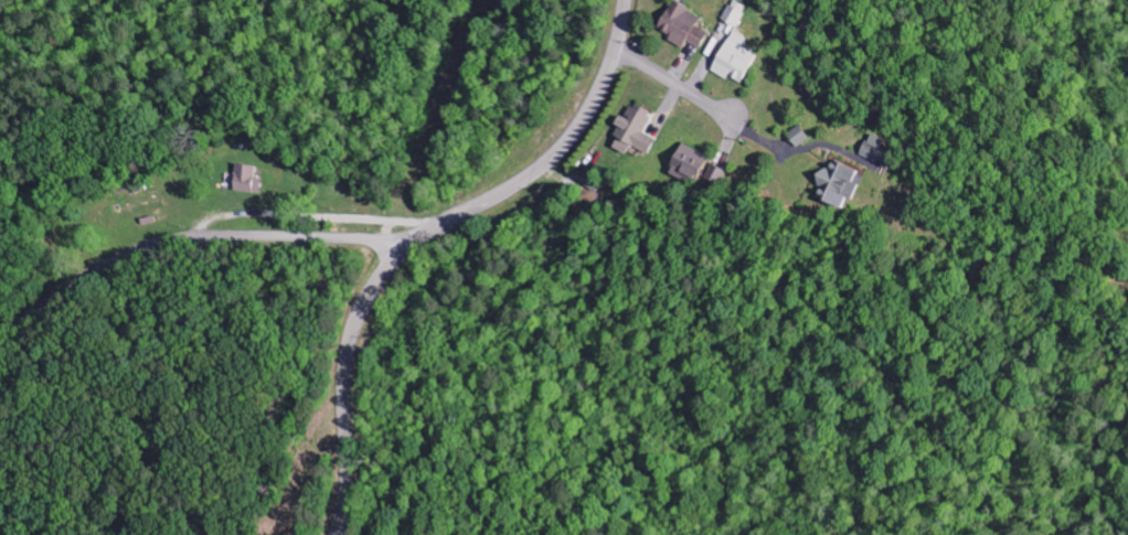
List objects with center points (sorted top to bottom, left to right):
building: (735, 13)
building: (682, 25)
building: (735, 58)
building: (631, 132)
building: (687, 163)
building: (249, 173)
building: (715, 173)
building: (590, 182)
building: (246, 186)
road: (424, 236)
road: (196, 237)

